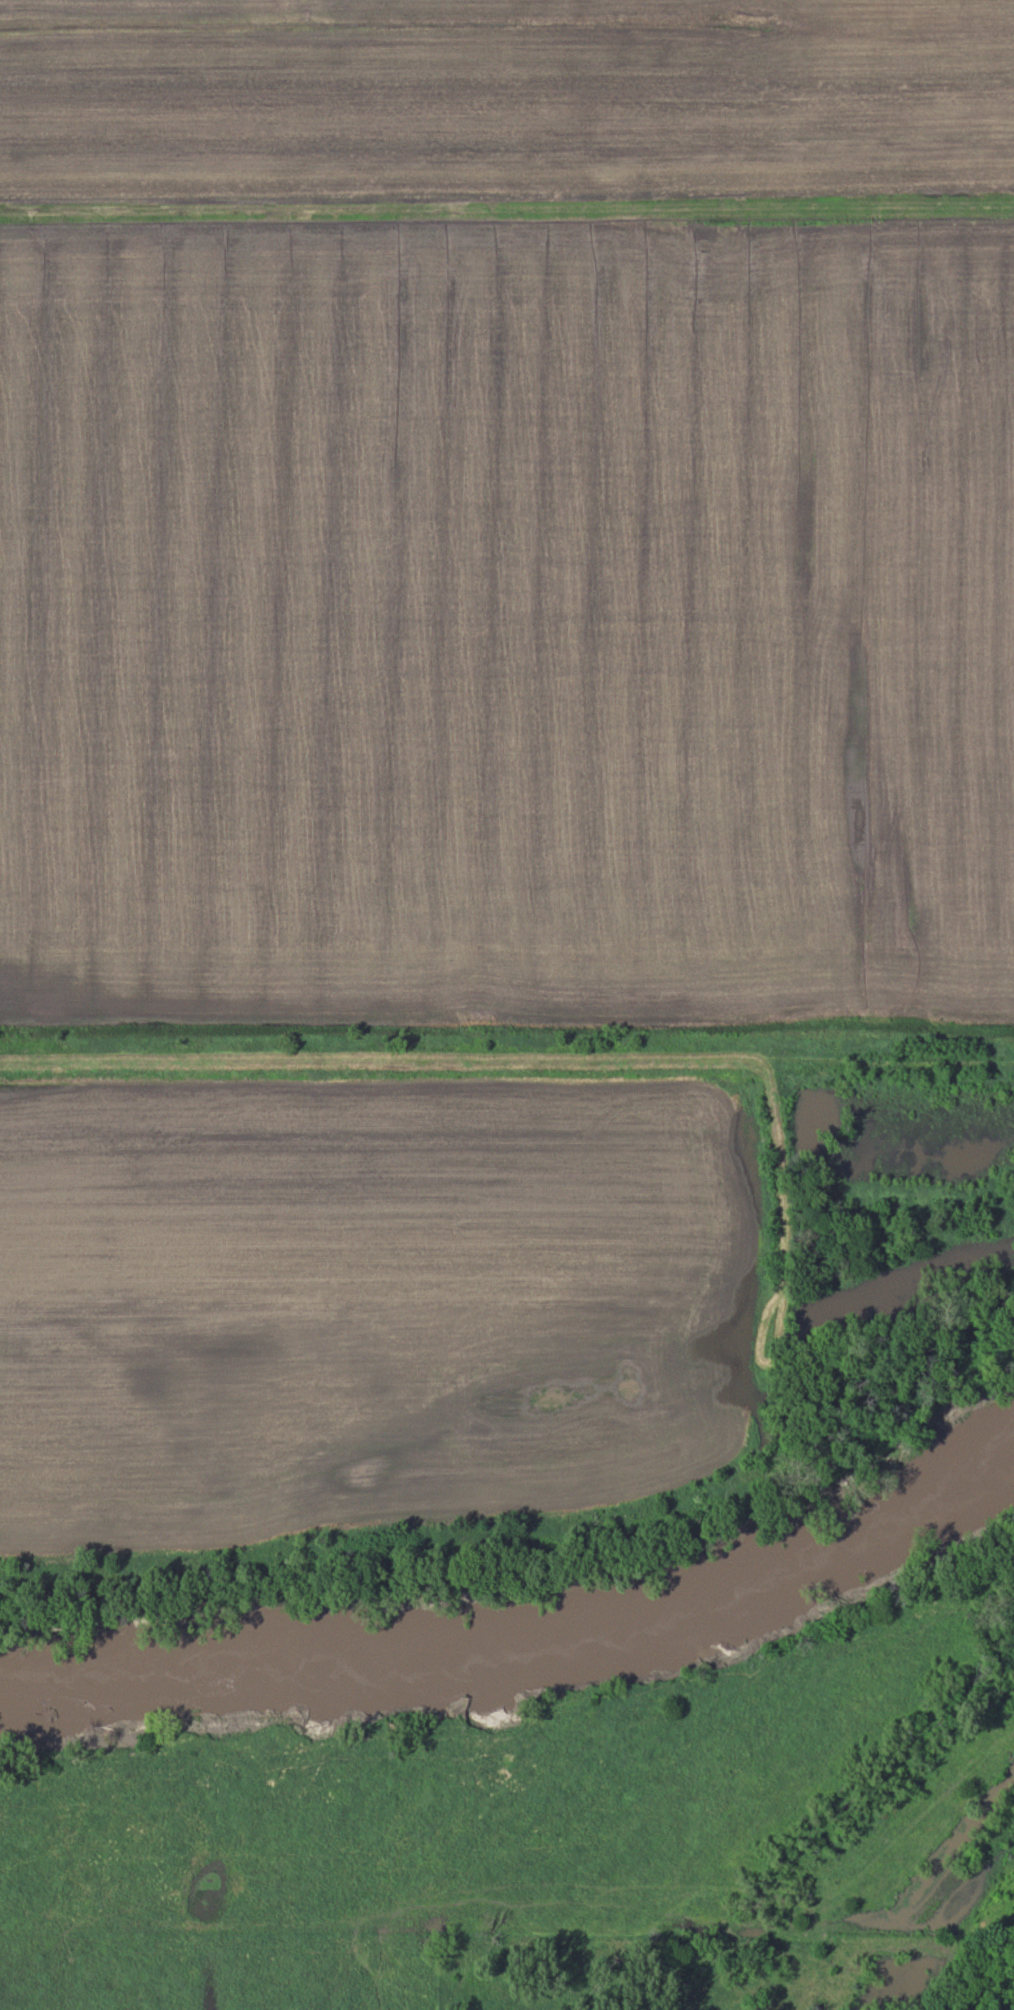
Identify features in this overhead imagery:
river: (521, 1625)

